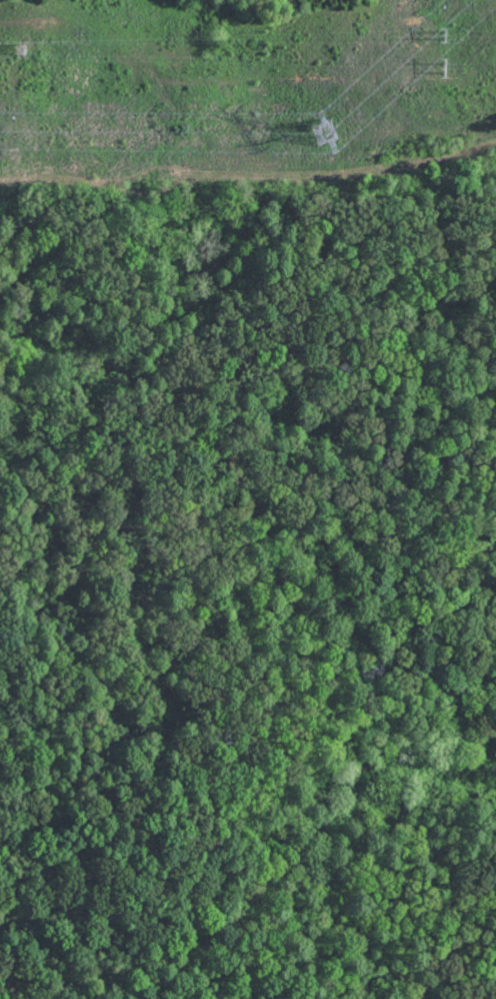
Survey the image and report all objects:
power tower: (442, 33)
power tower: (20, 47)
power tower: (442, 66)
power tower: (319, 132)

